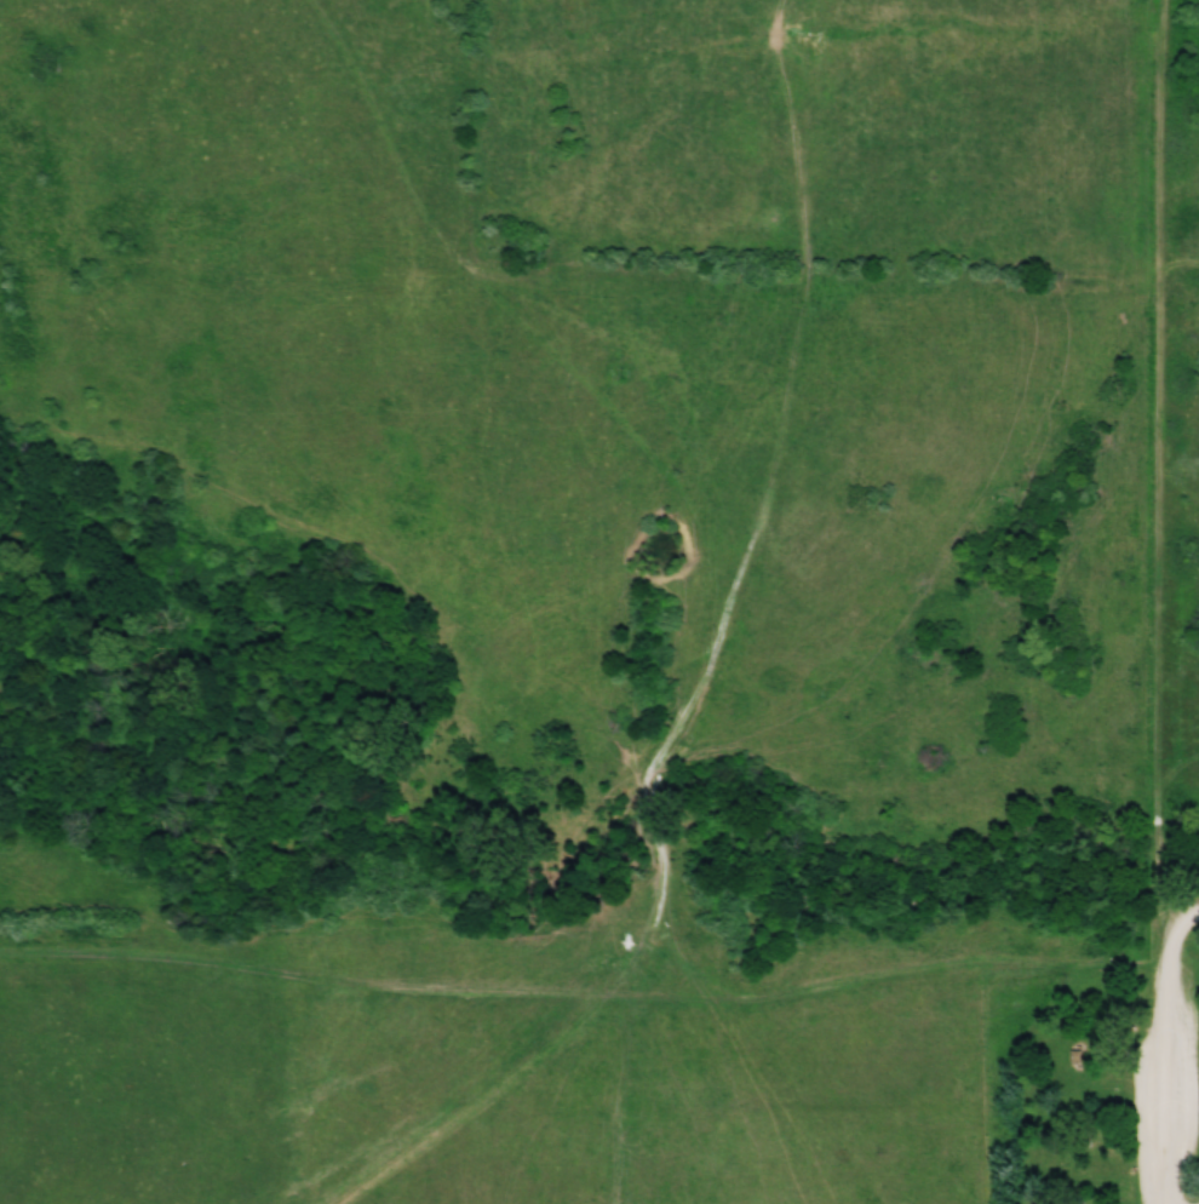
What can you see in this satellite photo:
road: (1168, 469)
road: (1181, 923)
park: (1107, 1007)
road: (1163, 1071)

